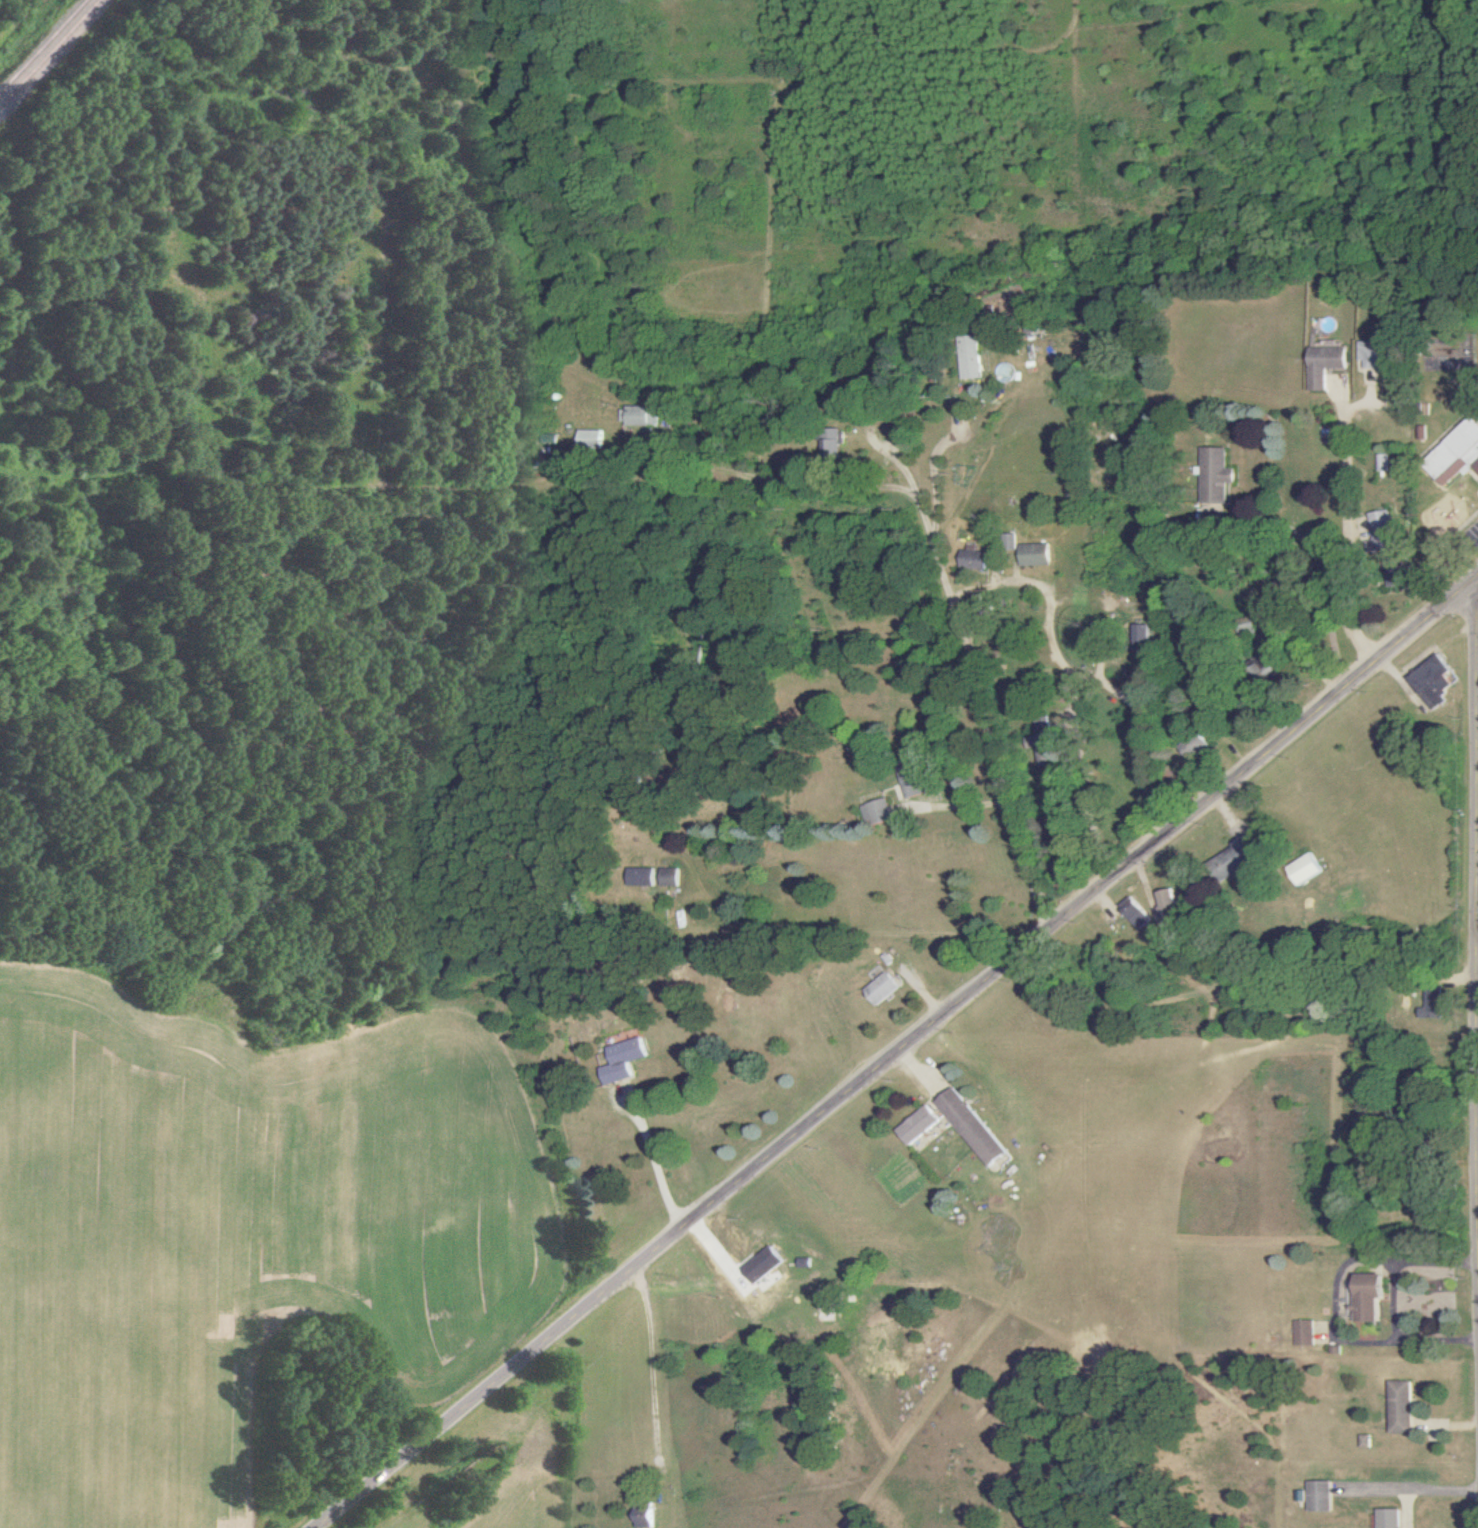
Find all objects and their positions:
railway: (40, 44)
railway: (47, 50)
building: (1377, 354)
building: (972, 359)
building: (1329, 365)
building: (639, 416)
building: (1331, 435)
building: (592, 439)
building: (837, 443)
building: (1457, 456)
road: (936, 475)
building: (1217, 476)
road: (814, 484)
road: (925, 509)
building: (1011, 541)
building: (1390, 547)
road: (1350, 552)
building: (1036, 554)
building: (975, 556)
road: (1320, 571)
road: (1112, 603)
road: (792, 604)
building: (1142, 634)
building: (1434, 681)
road: (1081, 739)
building: (1192, 745)
building: (912, 783)
building: (876, 812)
road: (1015, 818)
building: (1232, 861)
building: (1304, 869)
building: (640, 876)
building: (668, 877)
building: (1170, 908)
building: (1135, 910)
building: (883, 988)
road: (899, 1055)
building: (624, 1060)
building: (919, 1125)
building: (972, 1127)
road: (663, 1160)
building: (764, 1264)
building: (1366, 1297)
road: (1336, 1301)
road: (1391, 1301)
building: (1303, 1332)
building: (1396, 1407)
road: (1407, 1488)
building: (1315, 1496)
building: (645, 1516)
building: (1383, 1518)

